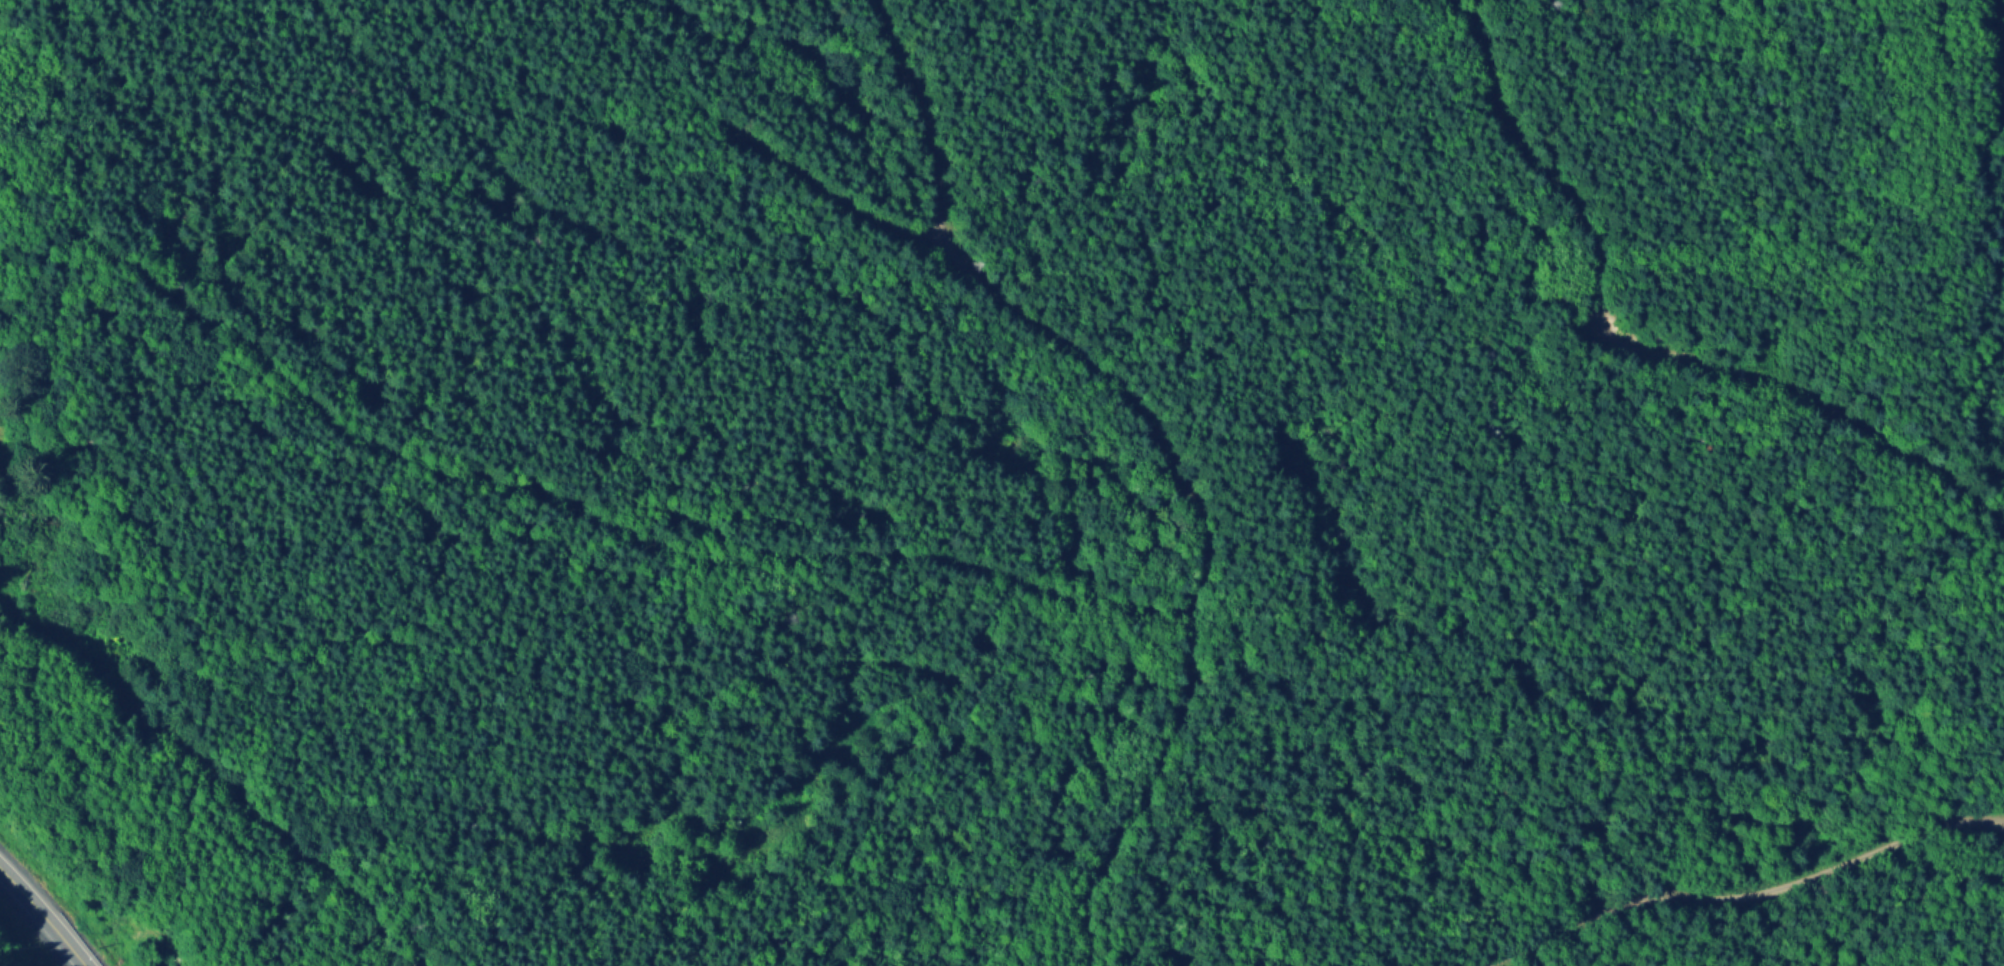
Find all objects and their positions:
road: (839, 198)
road: (1634, 349)
road: (1172, 454)
road: (596, 517)
road: (1150, 793)
road: (1750, 896)
road: (46, 912)
road: (1534, 960)

